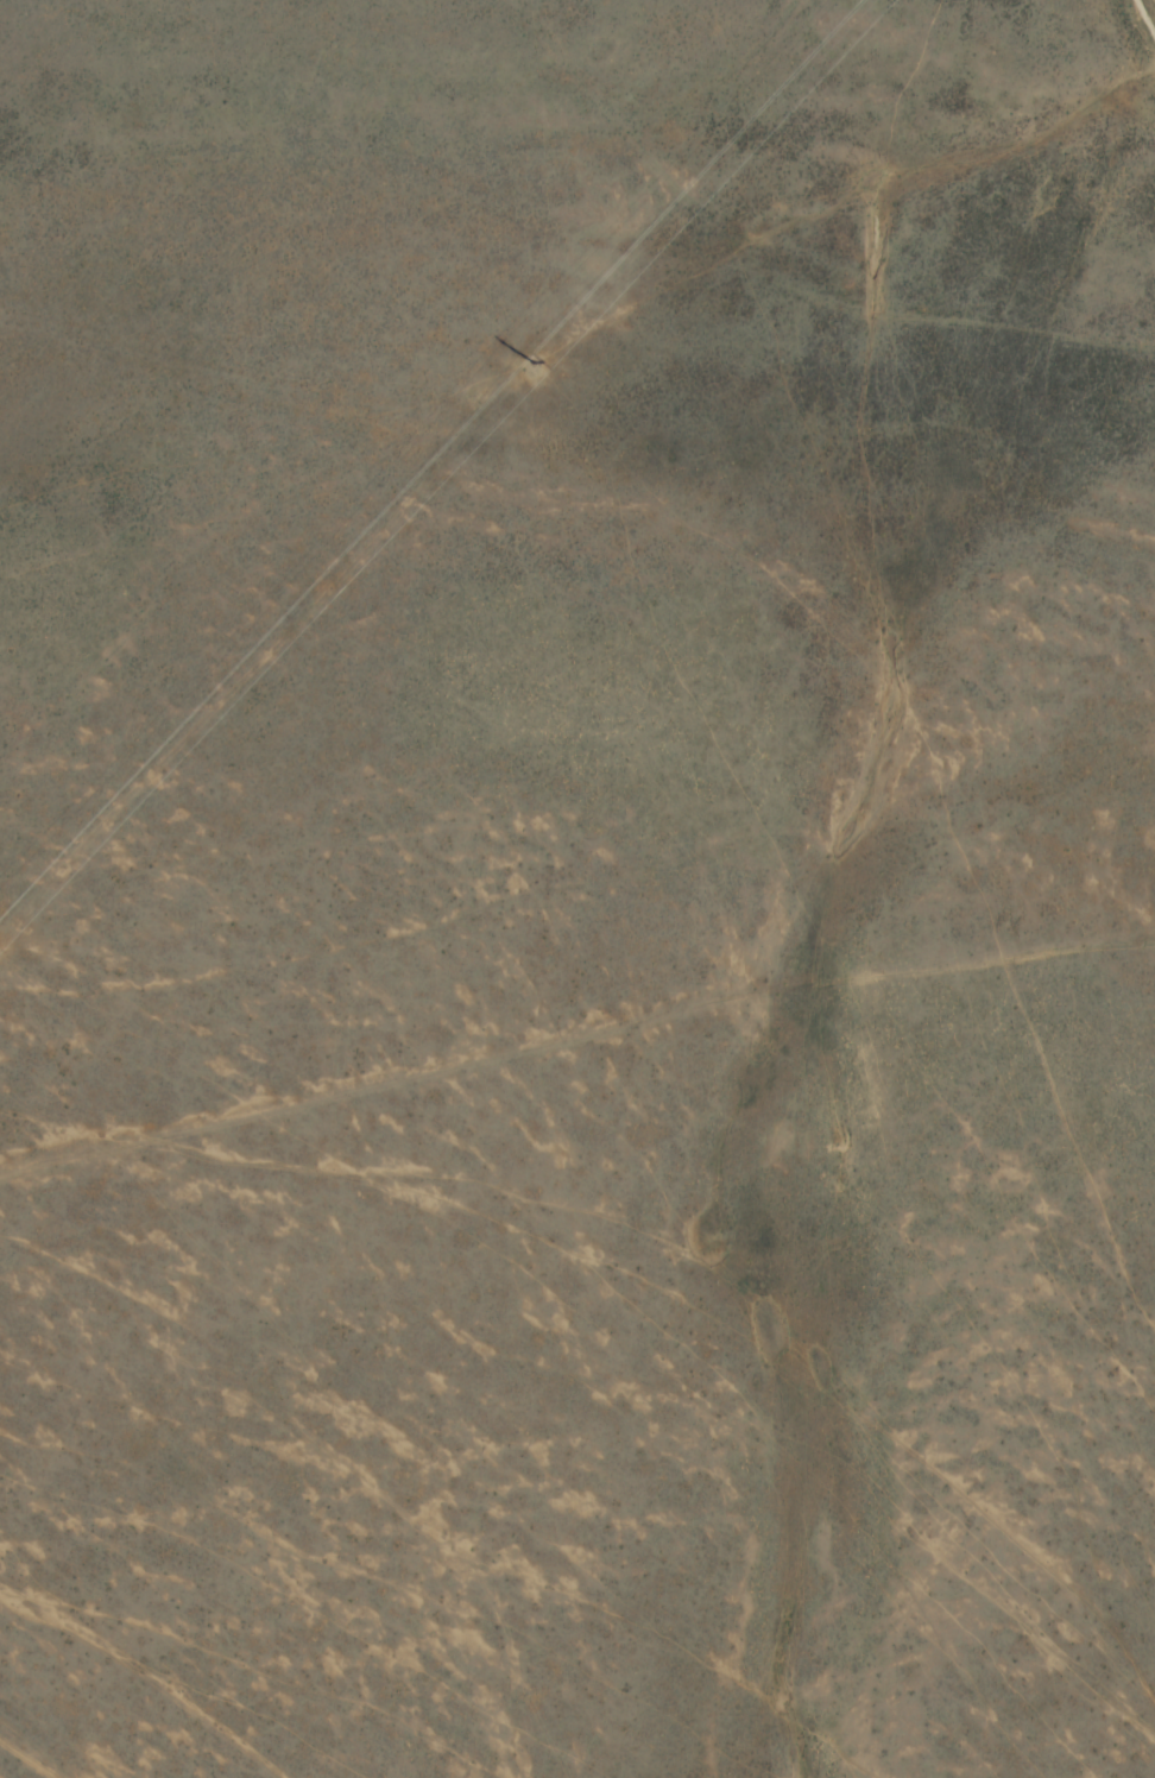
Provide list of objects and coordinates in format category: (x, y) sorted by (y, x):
power tower: (529, 362)
road: (513, 460)
road: (573, 1020)

